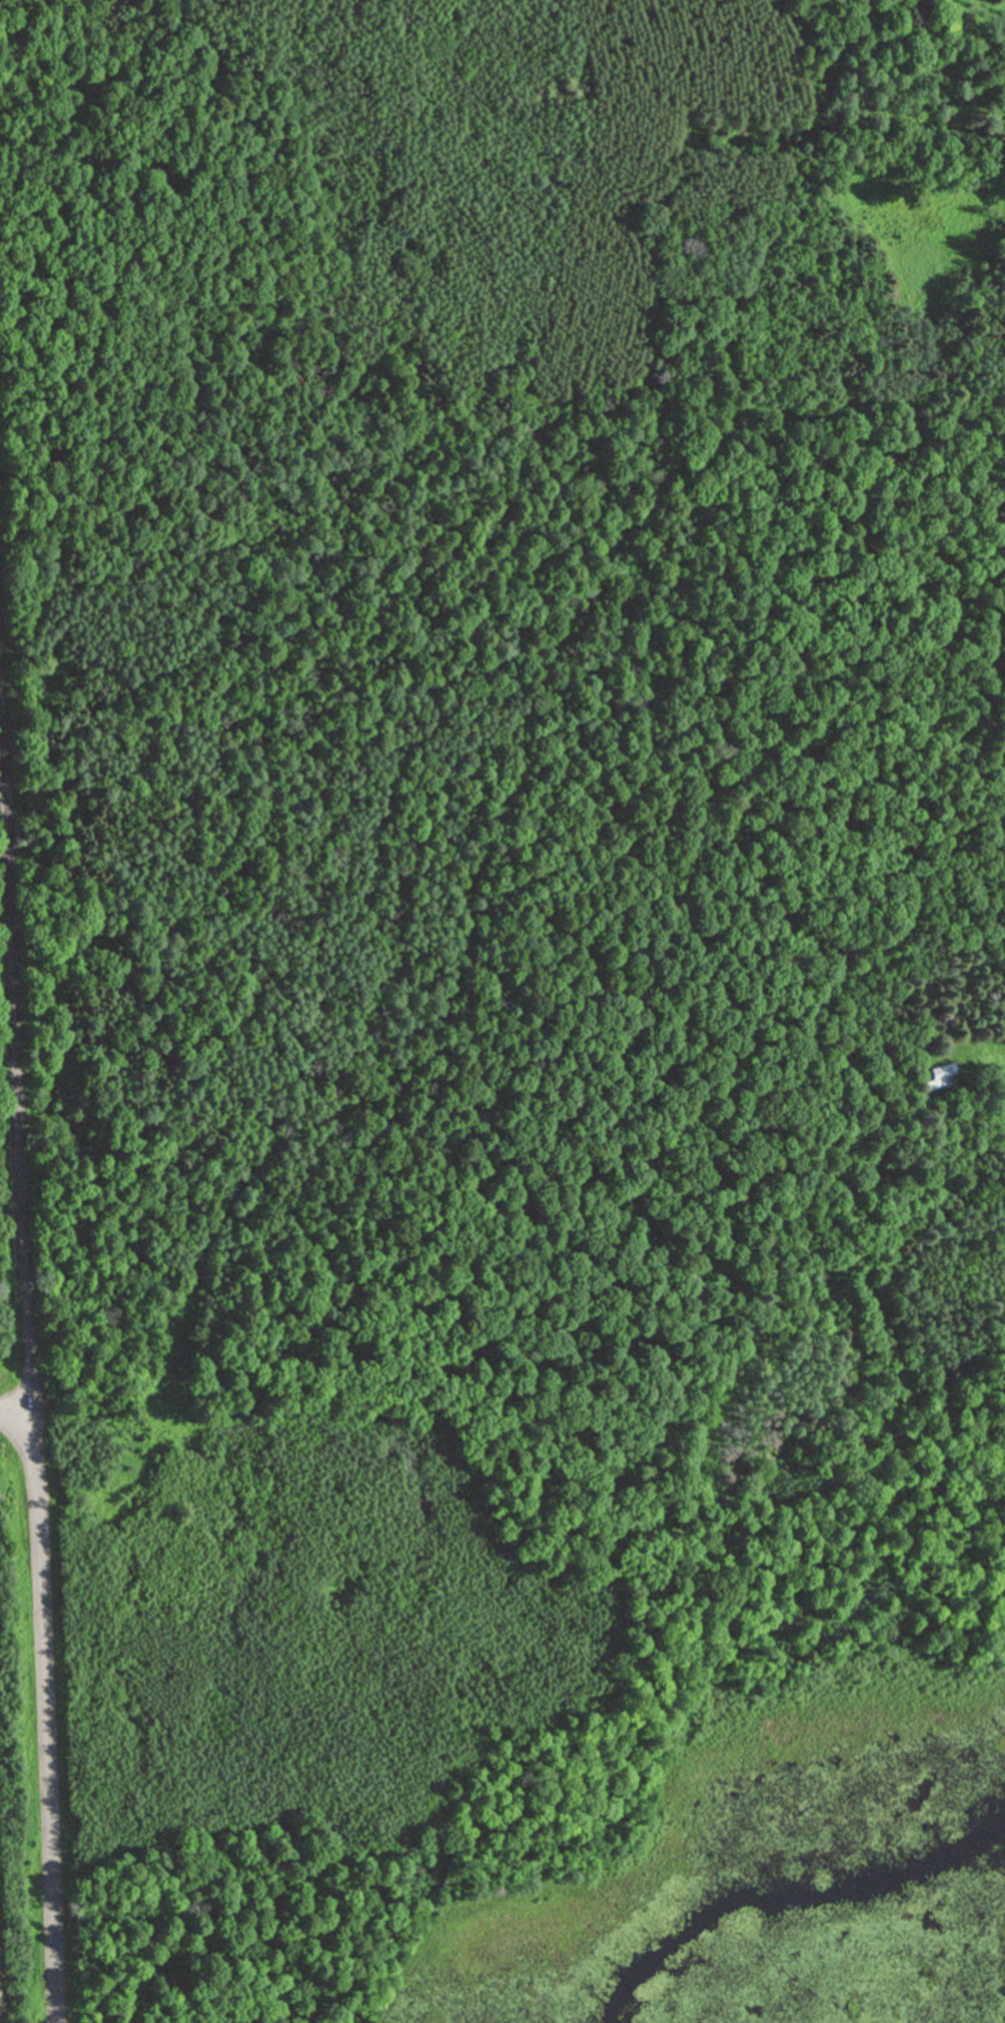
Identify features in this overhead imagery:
building: (941, 1075)
road: (432, 1078)
road: (16, 1085)
road: (6, 1420)
road: (43, 1721)
river: (797, 1888)

